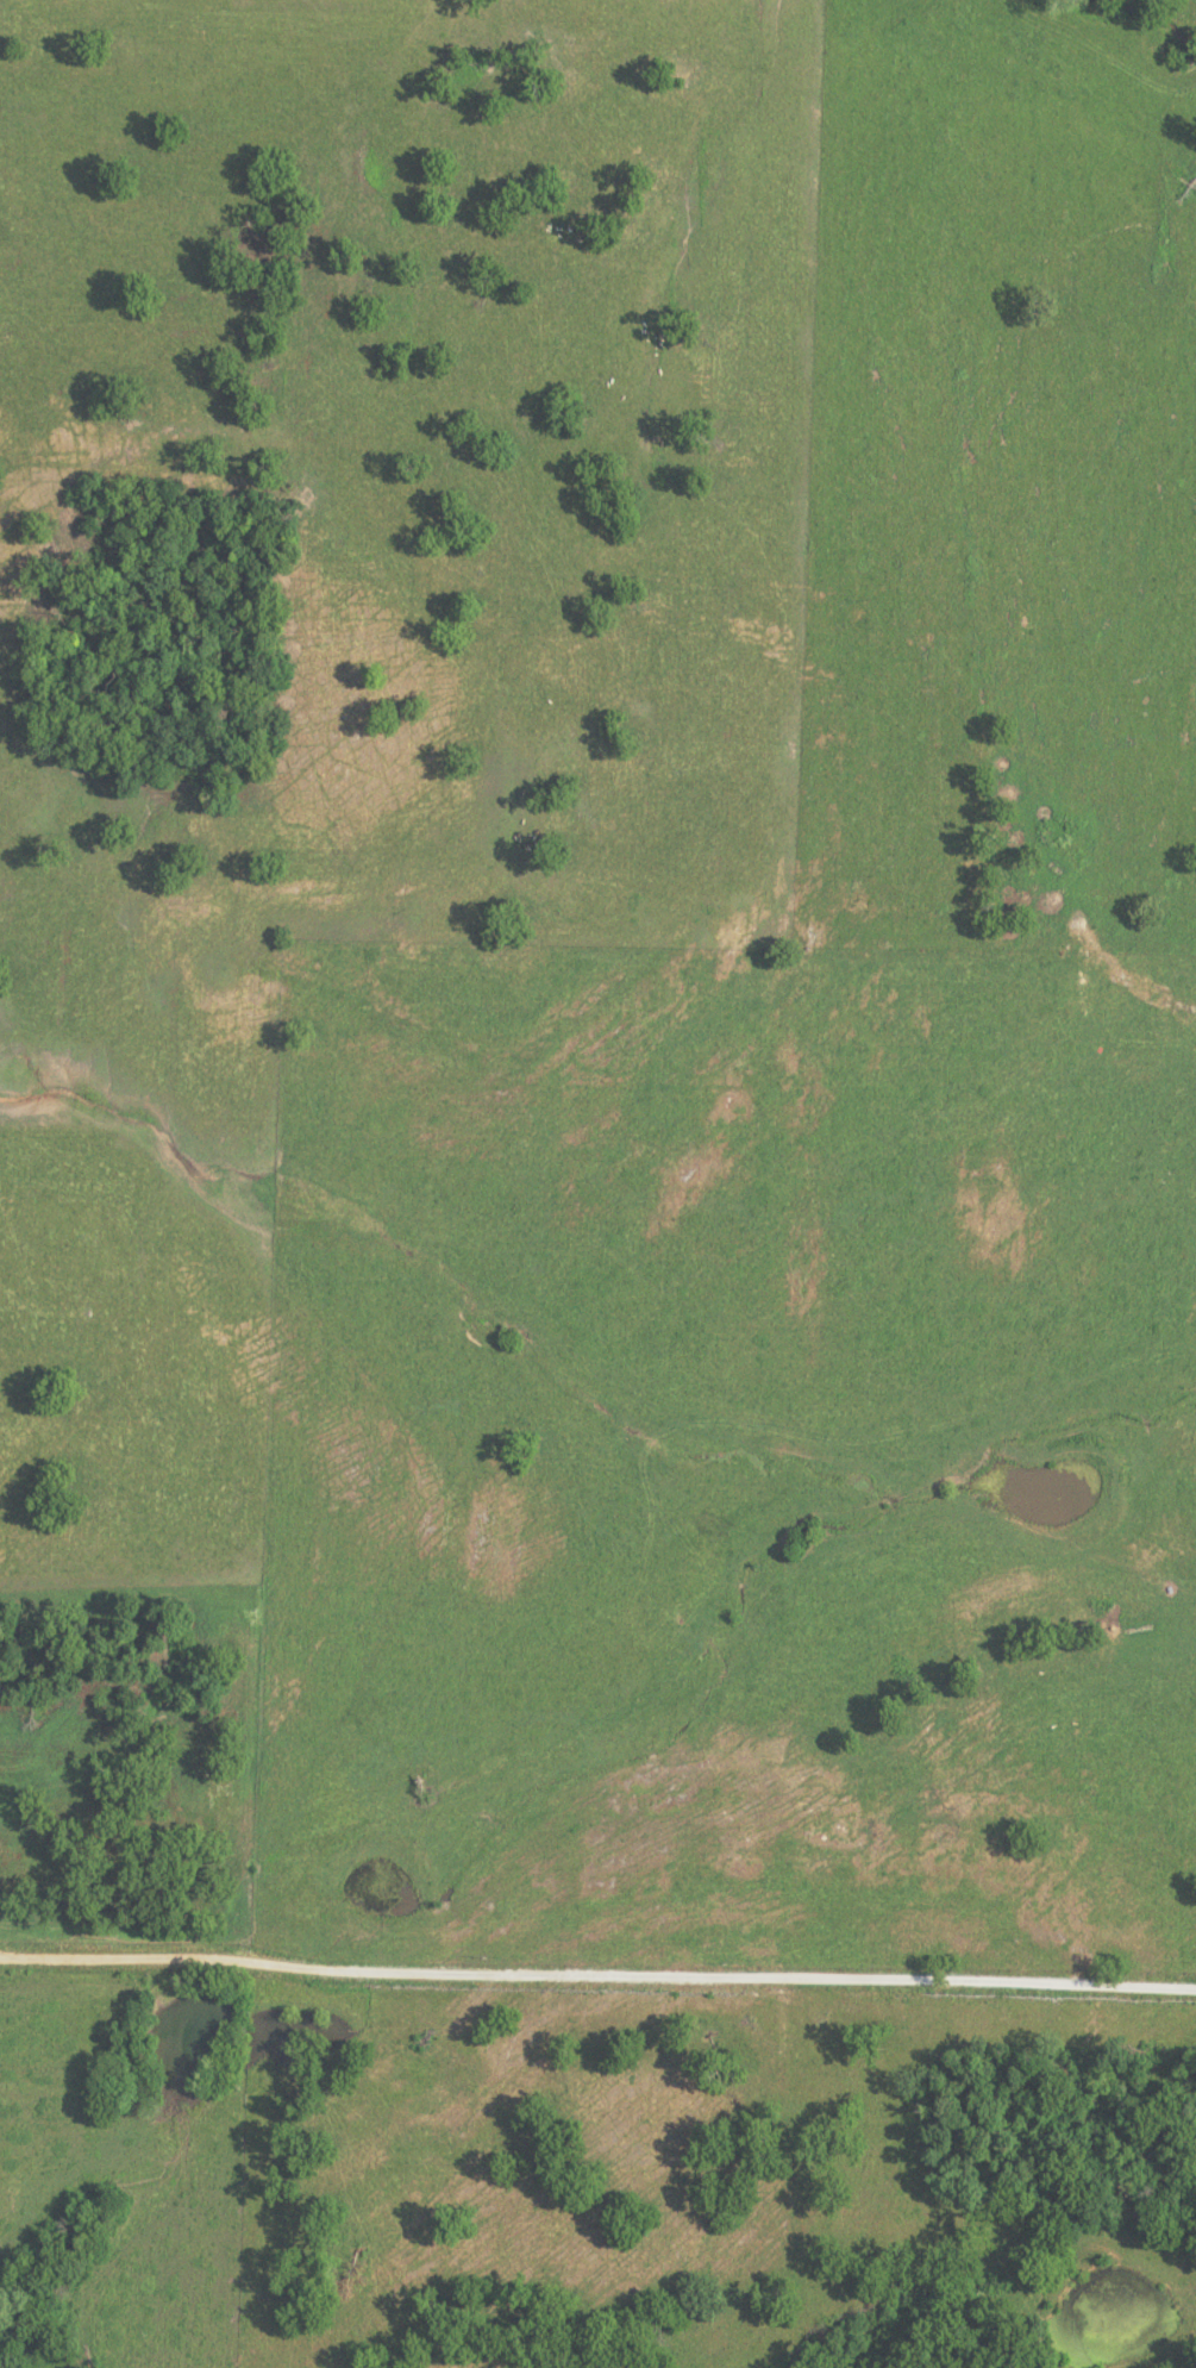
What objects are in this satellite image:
road: (597, 1973)

